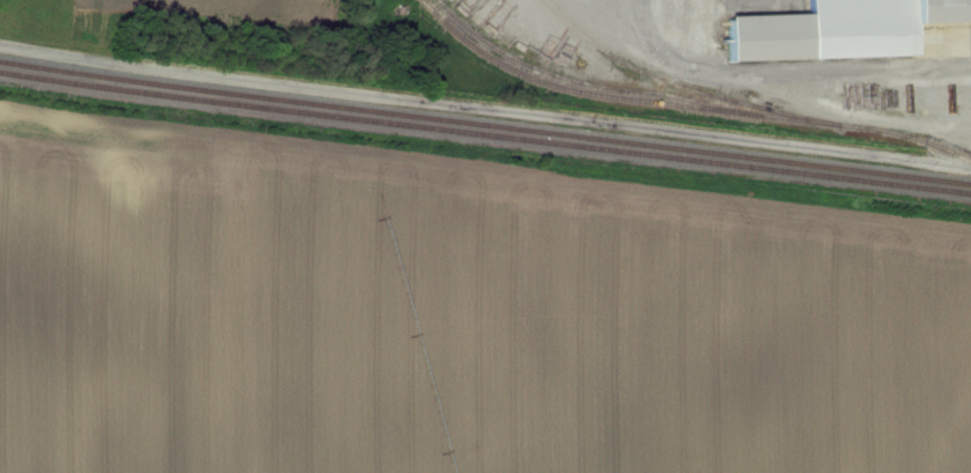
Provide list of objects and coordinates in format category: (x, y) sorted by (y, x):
building: (843, 29)
railway: (685, 109)
road: (484, 112)
railway: (485, 123)
railway: (485, 135)

